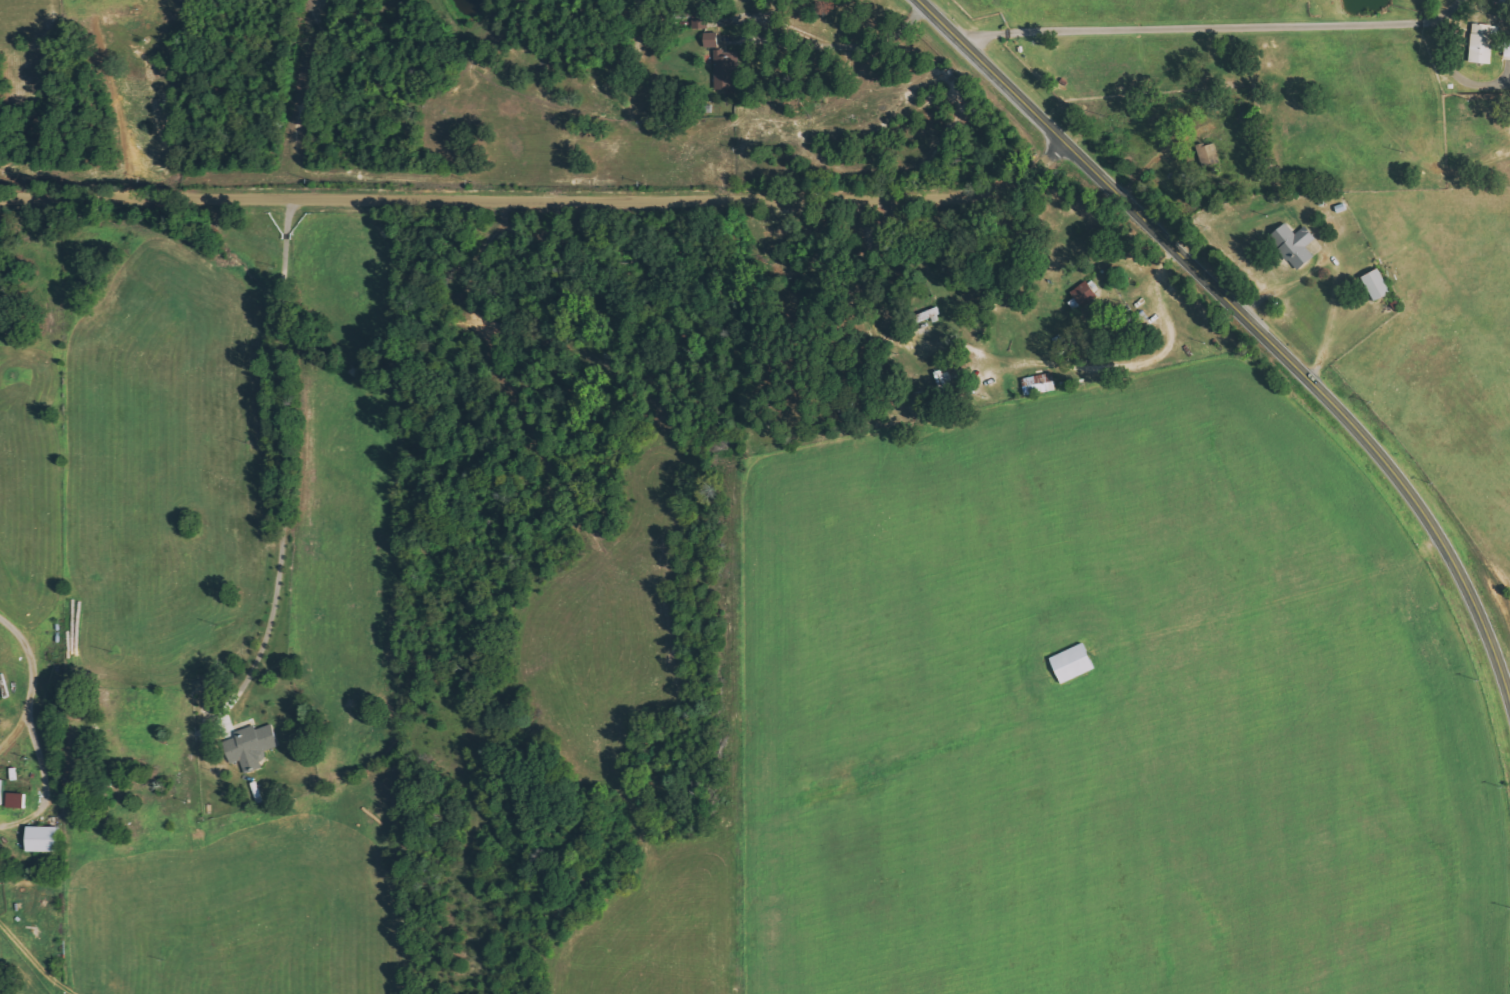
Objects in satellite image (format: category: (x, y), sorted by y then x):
building: (699, 18)
building: (711, 40)
building: (1482, 43)
building: (1507, 48)
building: (726, 69)
road: (540, 201)
building: (1294, 245)
building: (1376, 285)
building: (1082, 296)
road: (1252, 326)
building: (1039, 384)
road: (290, 458)
building: (1072, 663)
building: (251, 746)
building: (2, 792)
building: (16, 800)
building: (42, 839)

